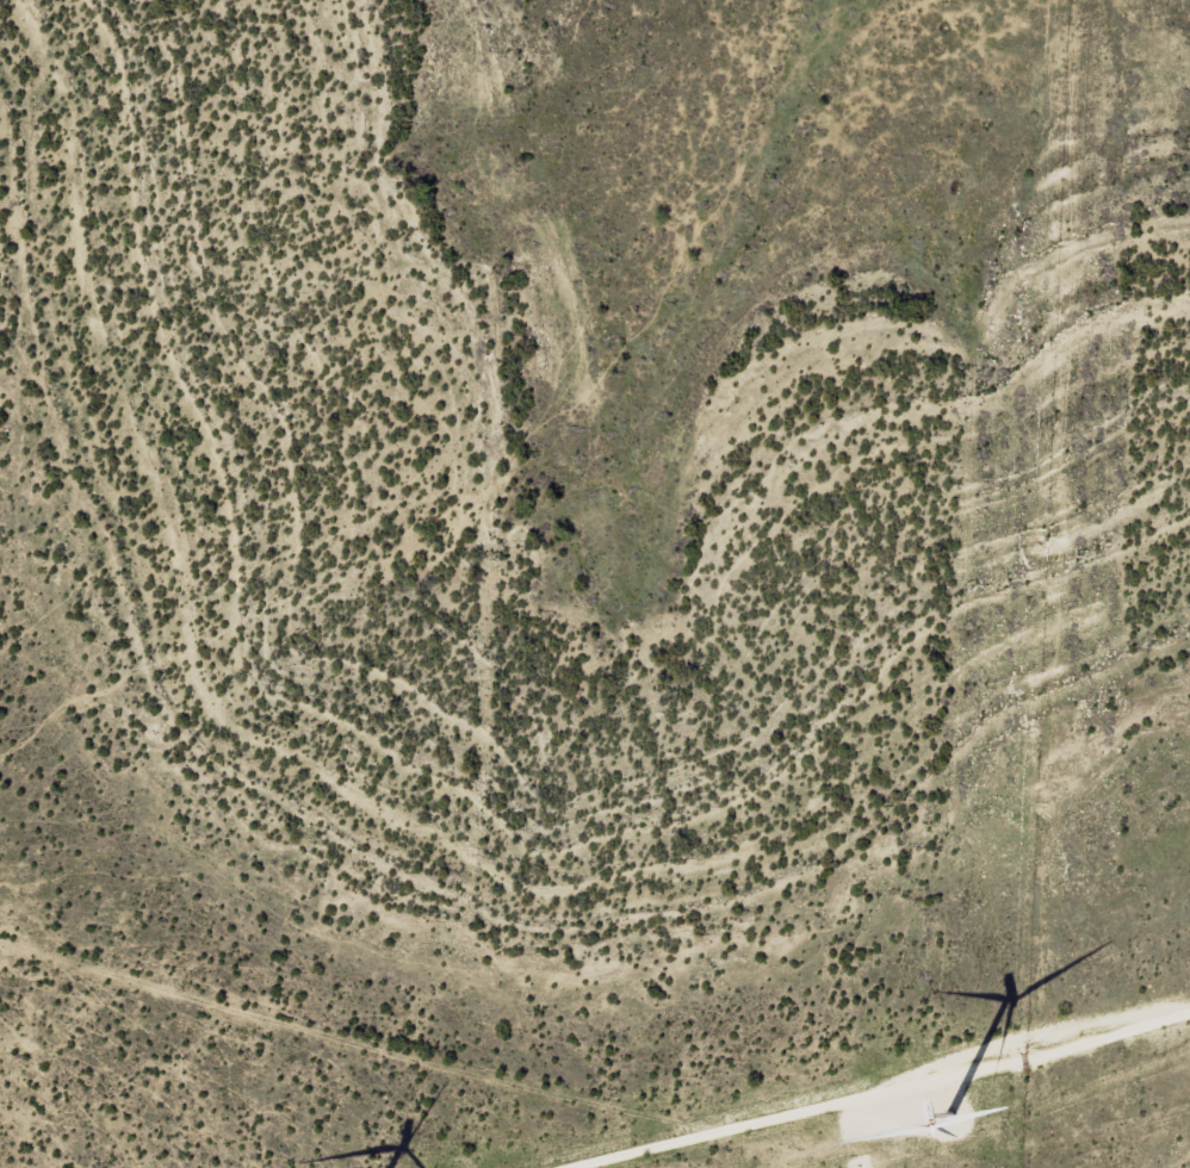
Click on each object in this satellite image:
wind turbine: (947, 1117)
road: (587, 1130)

